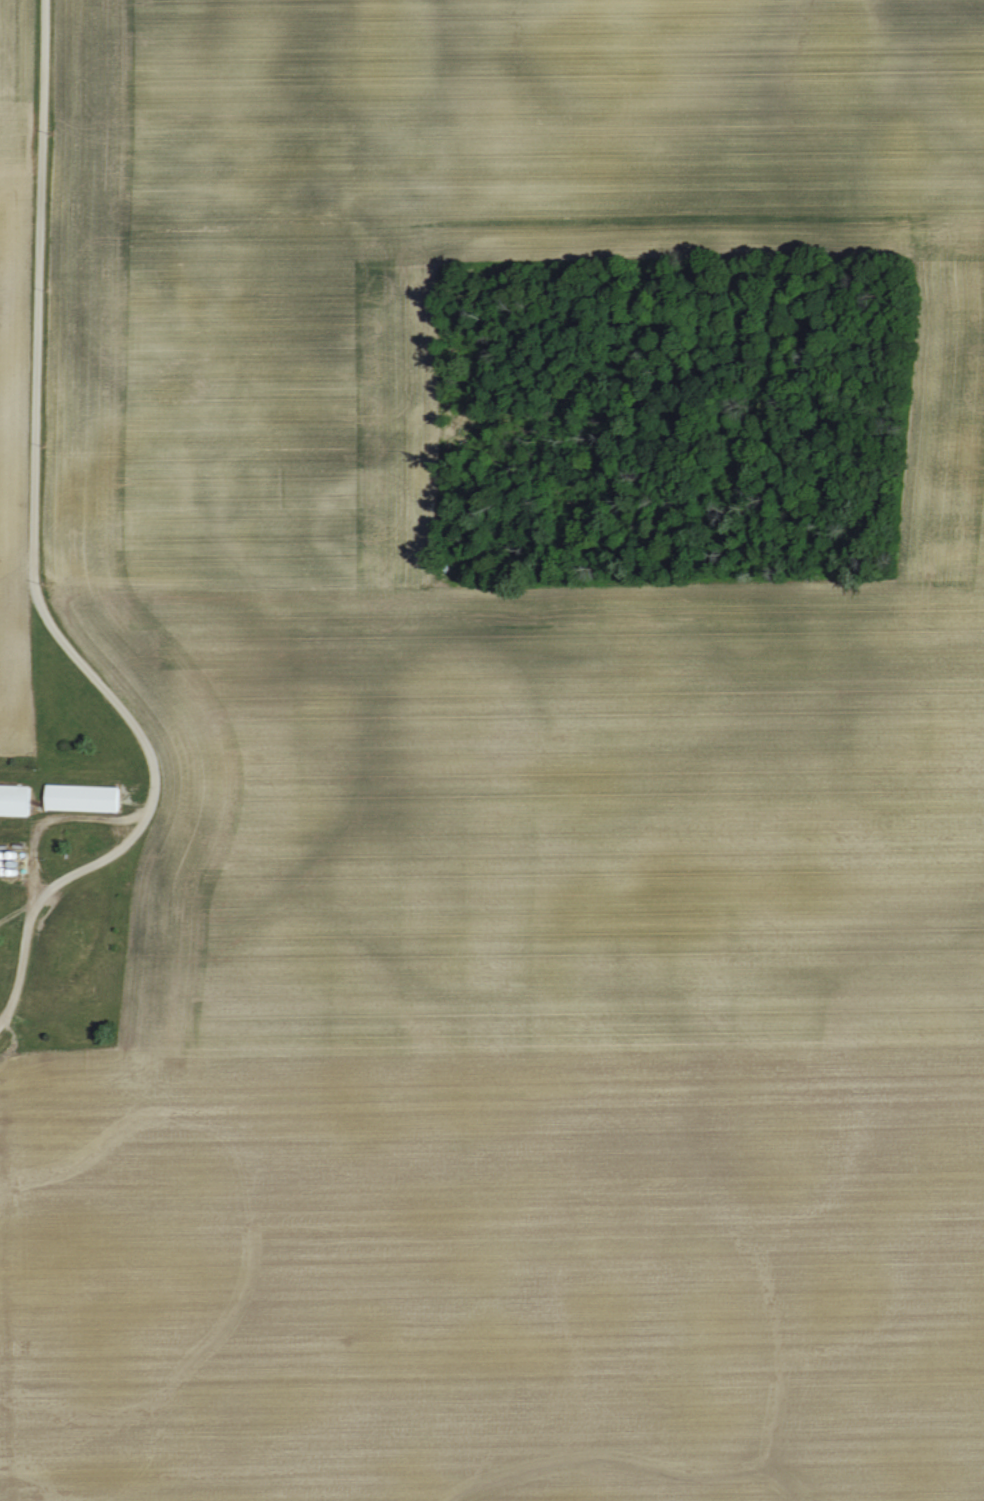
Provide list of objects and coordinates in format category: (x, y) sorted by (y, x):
road: (29, 555)
road: (16, 575)
building: (76, 795)
building: (10, 798)
road: (77, 816)
road: (28, 825)
road: (25, 859)
road: (30, 880)
building: (55, 948)

